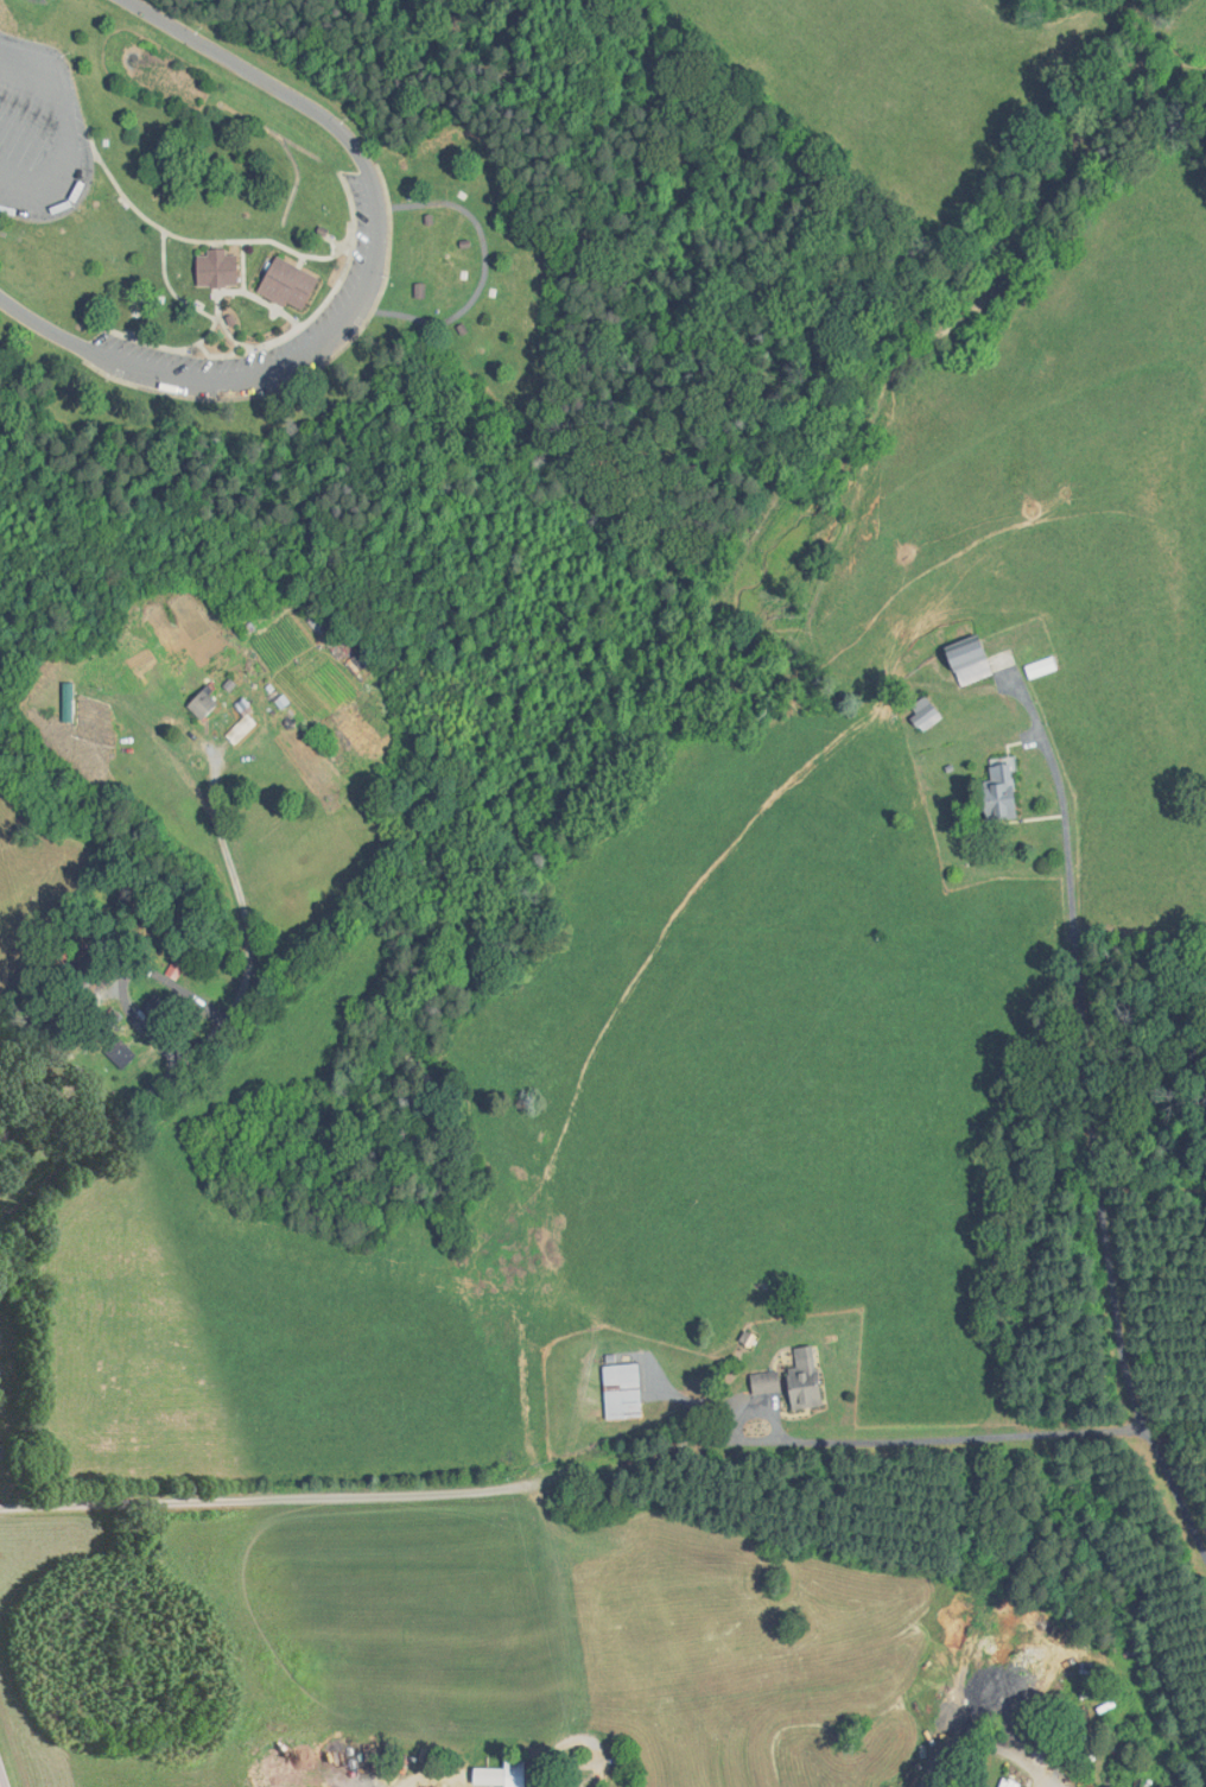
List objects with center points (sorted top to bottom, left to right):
parking lot: (40, 133)
road: (65, 133)
road: (199, 240)
road: (243, 266)
building: (216, 270)
parking lot: (361, 283)
building: (287, 285)
road: (169, 286)
road: (363, 291)
road: (261, 299)
road: (317, 311)
road: (170, 348)
road: (218, 355)
building: (966, 660)
building: (1039, 667)
building: (66, 702)
building: (201, 704)
building: (926, 720)
building: (239, 729)
building: (998, 791)
building: (77, 959)
building: (90, 987)
road: (195, 1050)
building: (118, 1054)
building: (802, 1380)
building: (763, 1383)
building: (621, 1392)
road: (572, 1468)
road: (1175, 1490)
building: (513, 1772)

